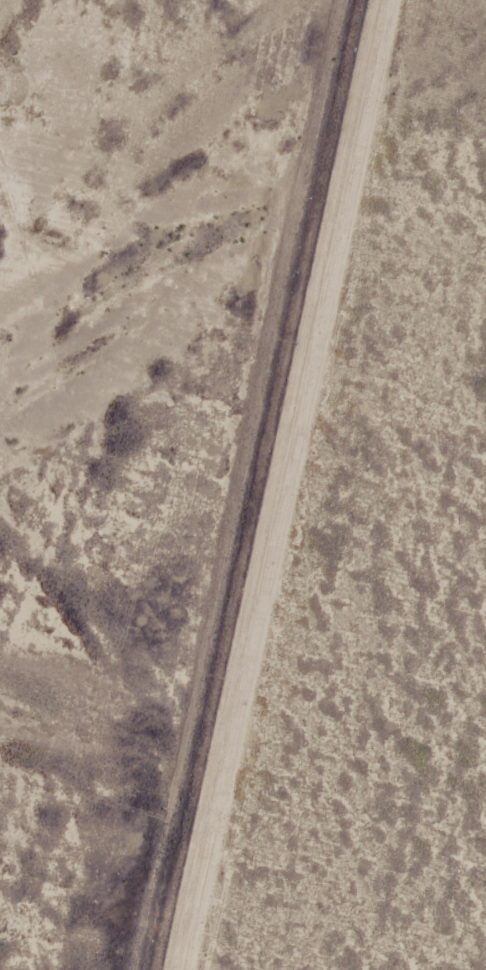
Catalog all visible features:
road: (275, 485)

